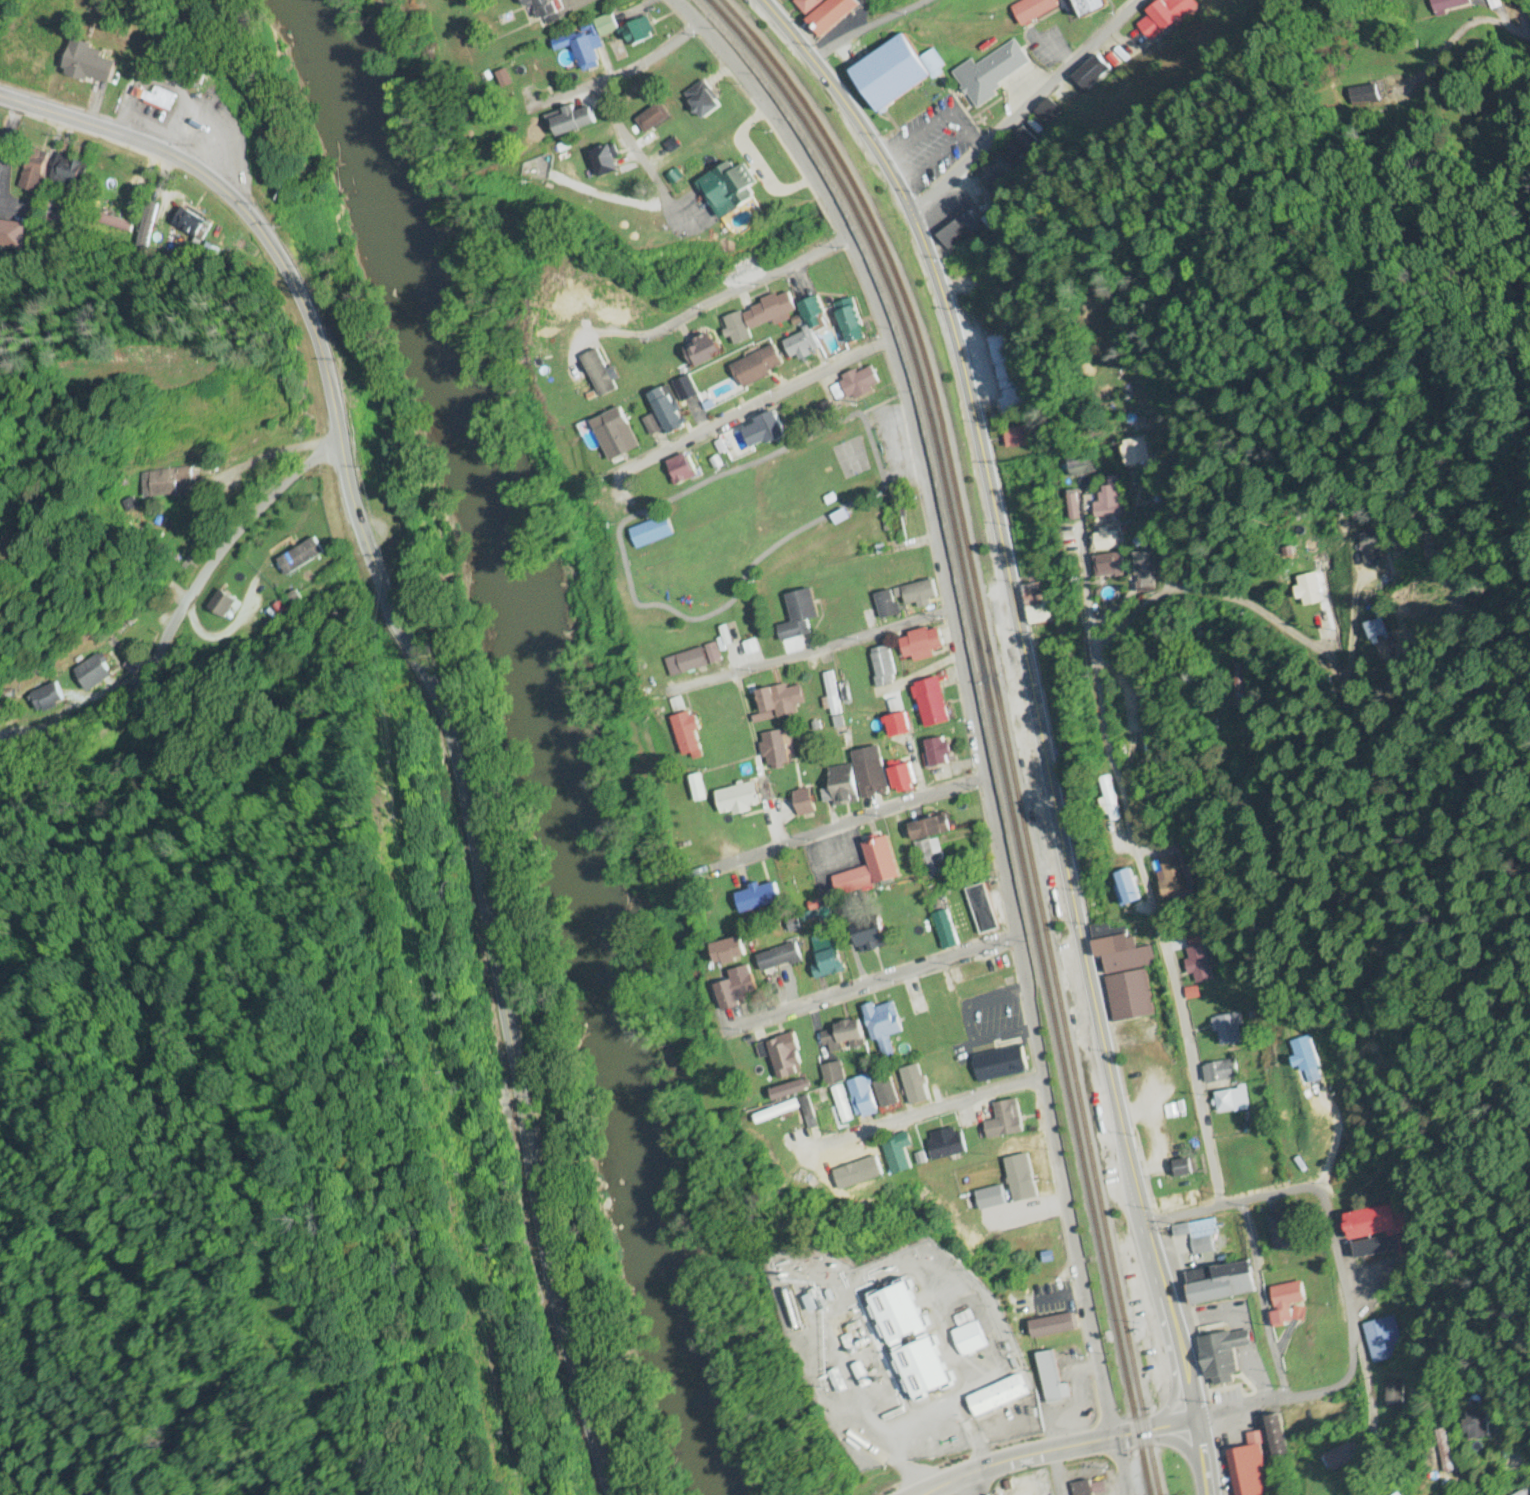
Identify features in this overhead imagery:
building: (808, 5)
building: (1448, 5)
building: (1093, 6)
building: (545, 7)
road: (1519, 13)
building: (832, 15)
building: (1165, 17)
road: (783, 30)
road: (862, 31)
building: (638, 32)
building: (583, 49)
building: (89, 63)
road: (619, 70)
building: (896, 72)
building: (1091, 72)
building: (990, 73)
building: (532, 75)
building: (158, 99)
building: (703, 101)
road: (1023, 108)
building: (1049, 112)
building: (653, 119)
building: (570, 121)
building: (1019, 146)
building: (603, 161)
building: (32, 171)
building: (66, 173)
building: (993, 176)
building: (726, 191)
building: (146, 225)
building: (192, 225)
building: (959, 231)
building: (11, 236)
building: (210, 253)
road: (745, 286)
building: (769, 312)
building: (813, 314)
building: (851, 327)
road: (952, 334)
building: (798, 346)
building: (703, 351)
building: (758, 367)
building: (1004, 375)
building: (855, 385)
building: (686, 390)
road: (754, 407)
building: (667, 412)
building: (764, 432)
building: (616, 436)
building: (1019, 438)
building: (1134, 455)
building: (1078, 466)
building: (682, 471)
building: (167, 485)
building: (1109, 499)
building: (1073, 505)
building: (895, 524)
building: (651, 534)
building: (1104, 542)
building: (300, 558)
building: (1107, 566)
building: (1144, 573)
building: (1309, 591)
building: (888, 604)
building: (222, 605)
road: (178, 606)
building: (1038, 606)
building: (799, 615)
building: (1378, 629)
building: (922, 641)
road: (819, 649)
building: (693, 660)
building: (884, 666)
building: (93, 673)
building: (1239, 687)
building: (831, 695)
building: (48, 699)
building: (782, 700)
building: (933, 702)
road: (435, 708)
road: (976, 716)
railway: (998, 720)
building: (899, 725)
building: (688, 732)
river: (557, 746)
building: (775, 748)
building: (872, 774)
building: (905, 777)
building: (843, 785)
building: (739, 798)
building: (1110, 798)
building: (804, 802)
road: (851, 824)
building: (928, 824)
building: (904, 846)
building: (932, 856)
road: (1146, 865)
building: (871, 868)
building: (1176, 879)
building: (1129, 887)
building: (758, 897)
building: (983, 909)
building: (946, 929)
building: (871, 935)
building: (729, 951)
building: (1121, 951)
building: (779, 957)
building: (1197, 958)
building: (827, 959)
road: (871, 985)
building: (737, 988)
building: (1131, 1004)
building: (935, 1013)
building: (883, 1022)
building: (1229, 1030)
building: (844, 1037)
building: (888, 1053)
building: (783, 1055)
building: (1001, 1064)
road: (1108, 1067)
building: (1220, 1072)
building: (833, 1073)
building: (915, 1079)
building: (792, 1090)
building: (886, 1093)
building: (862, 1098)
building: (1231, 1101)
building: (818, 1116)
road: (924, 1117)
building: (1005, 1121)
building: (946, 1144)
building: (899, 1153)
building: (853, 1168)
building: (1184, 1168)
building: (972, 1175)
road: (1227, 1206)
building: (1377, 1229)
building: (1198, 1230)
building: (1284, 1233)
road: (1364, 1265)
building: (1222, 1283)
road: (1263, 1302)
building: (1288, 1305)
building: (908, 1311)
building: (1054, 1326)
building: (969, 1336)
building: (1382, 1340)
building: (1224, 1357)
building: (925, 1368)
building: (1053, 1379)
building: (998, 1397)
road: (1287, 1400)
building: (1317, 1417)
building: (1478, 1425)
building: (1278, 1436)
road: (1062, 1449)
building: (1444, 1451)
building: (1343, 1456)
road: (1412, 1468)
building: (1248, 1471)
road: (1056, 1473)
road: (971, 1486)
building: (1084, 1488)
building: (1524, 1491)

